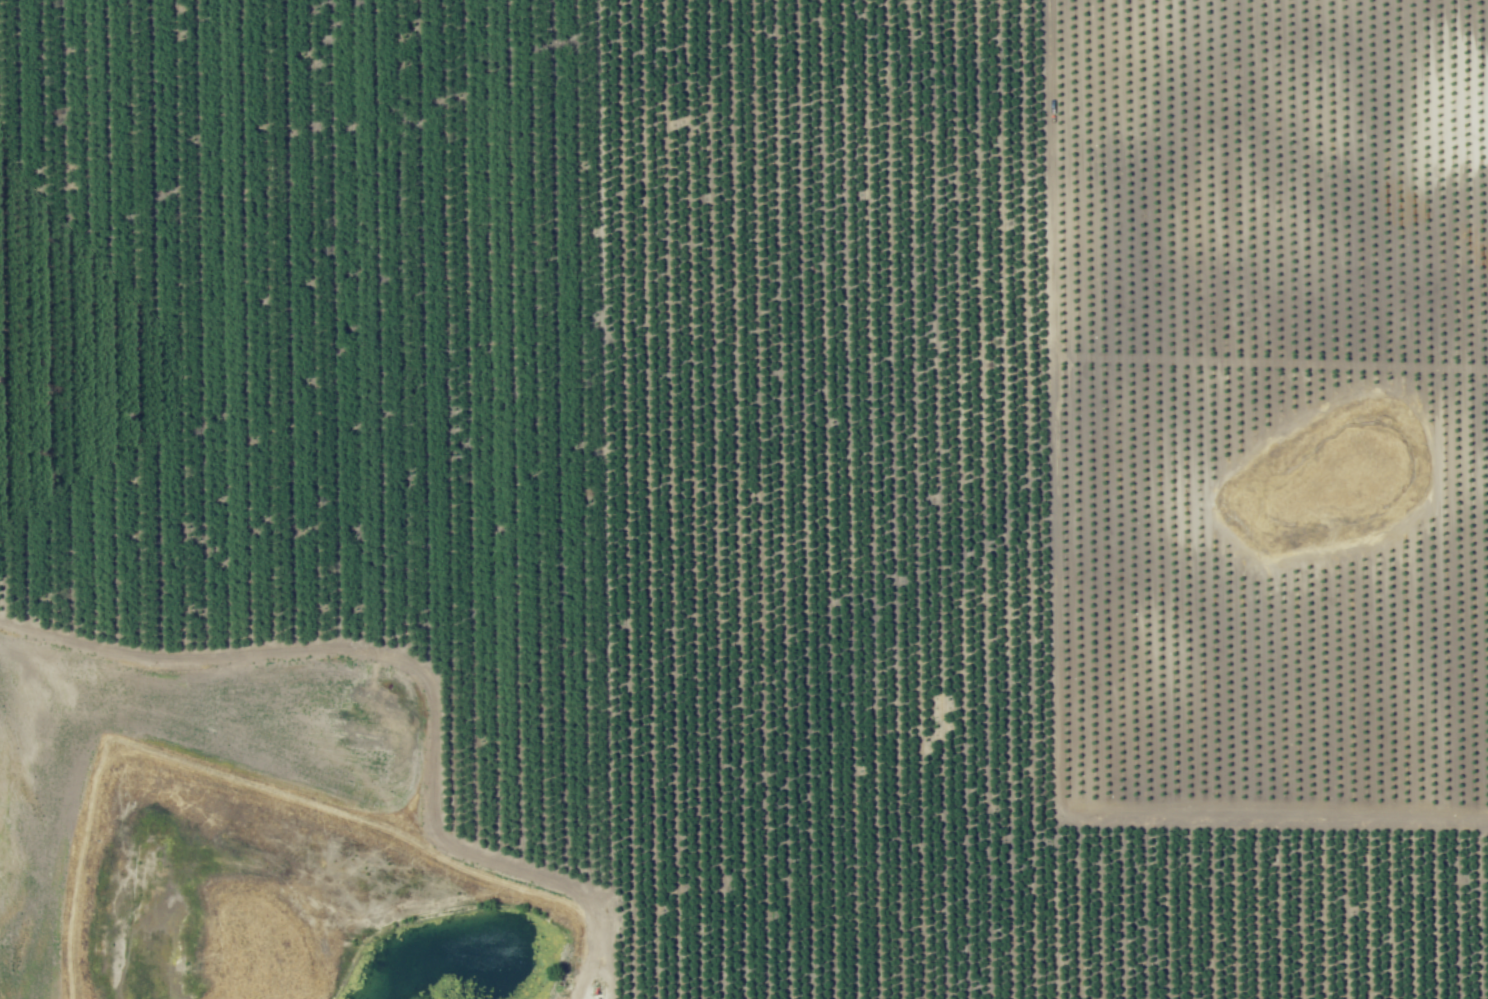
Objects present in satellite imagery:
crop: (744, 499)

